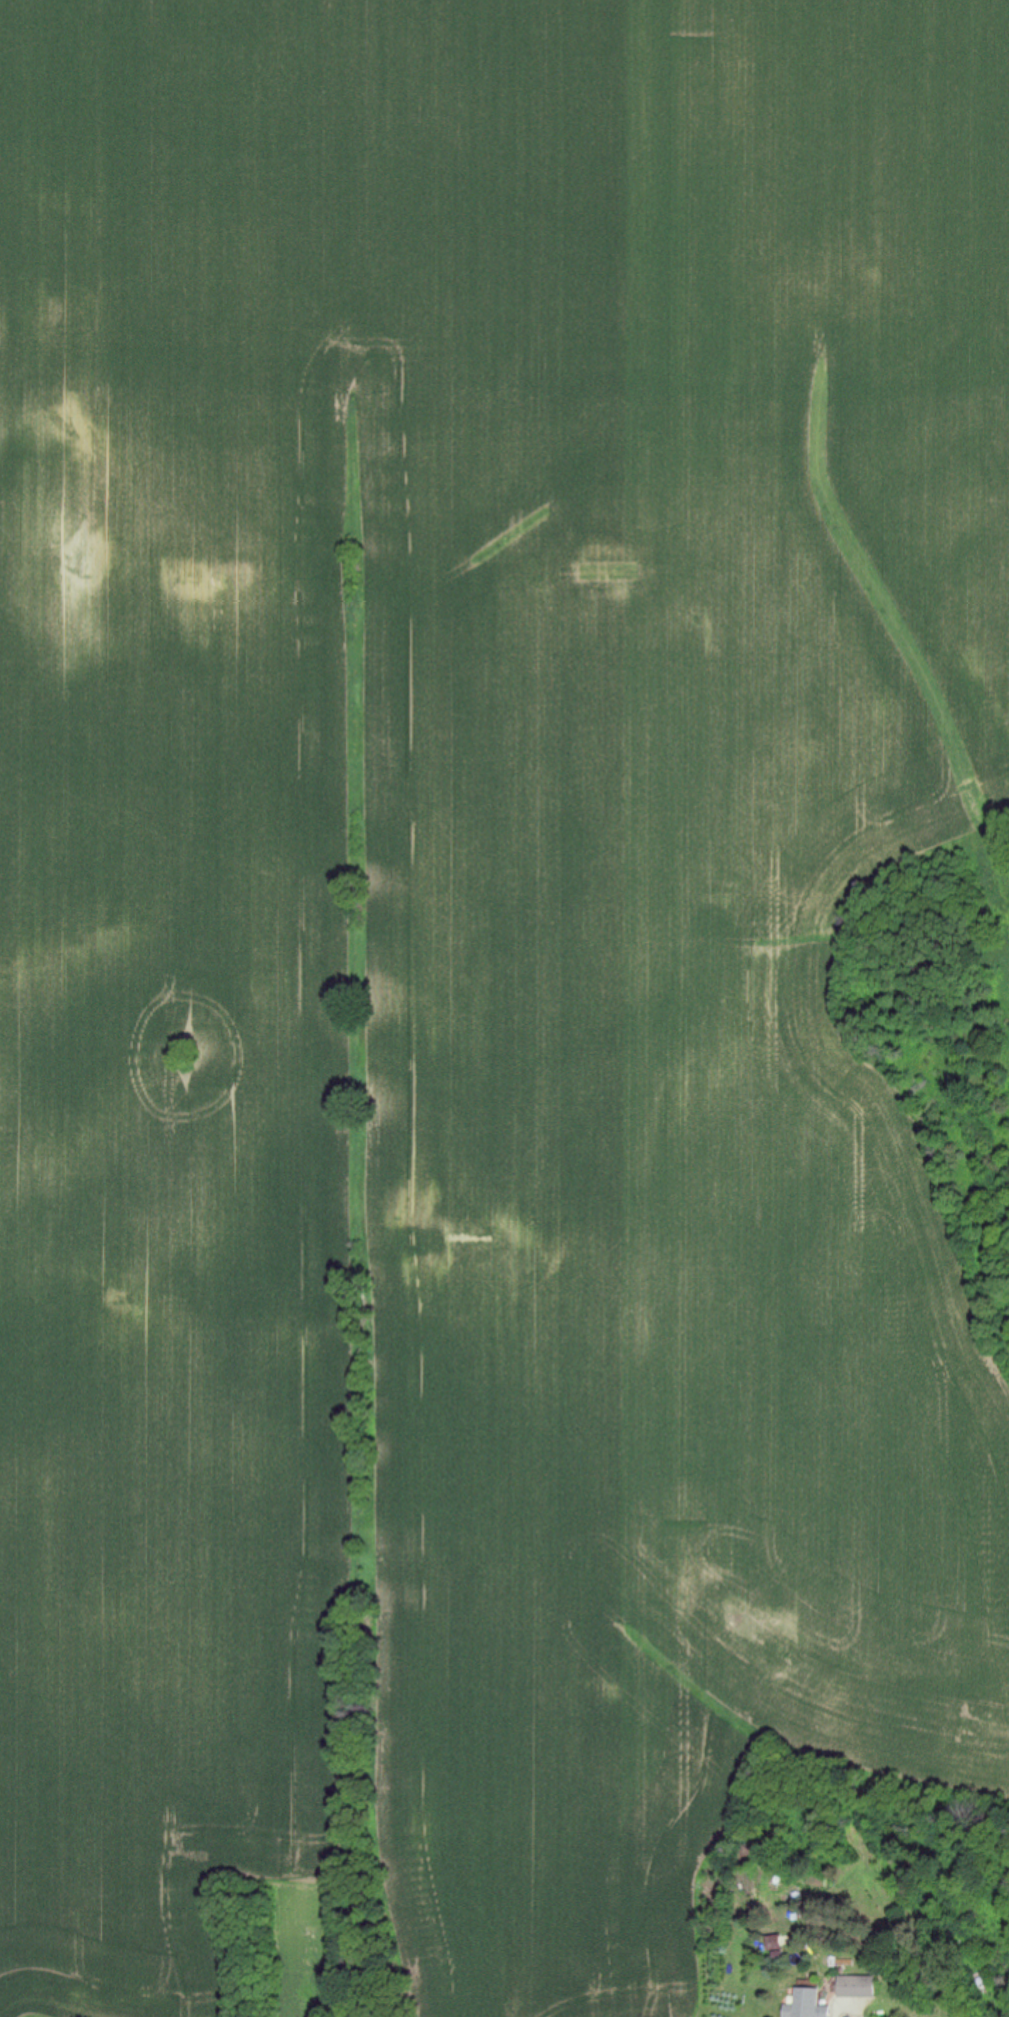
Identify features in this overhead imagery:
building: (857, 1986)
building: (807, 2002)

